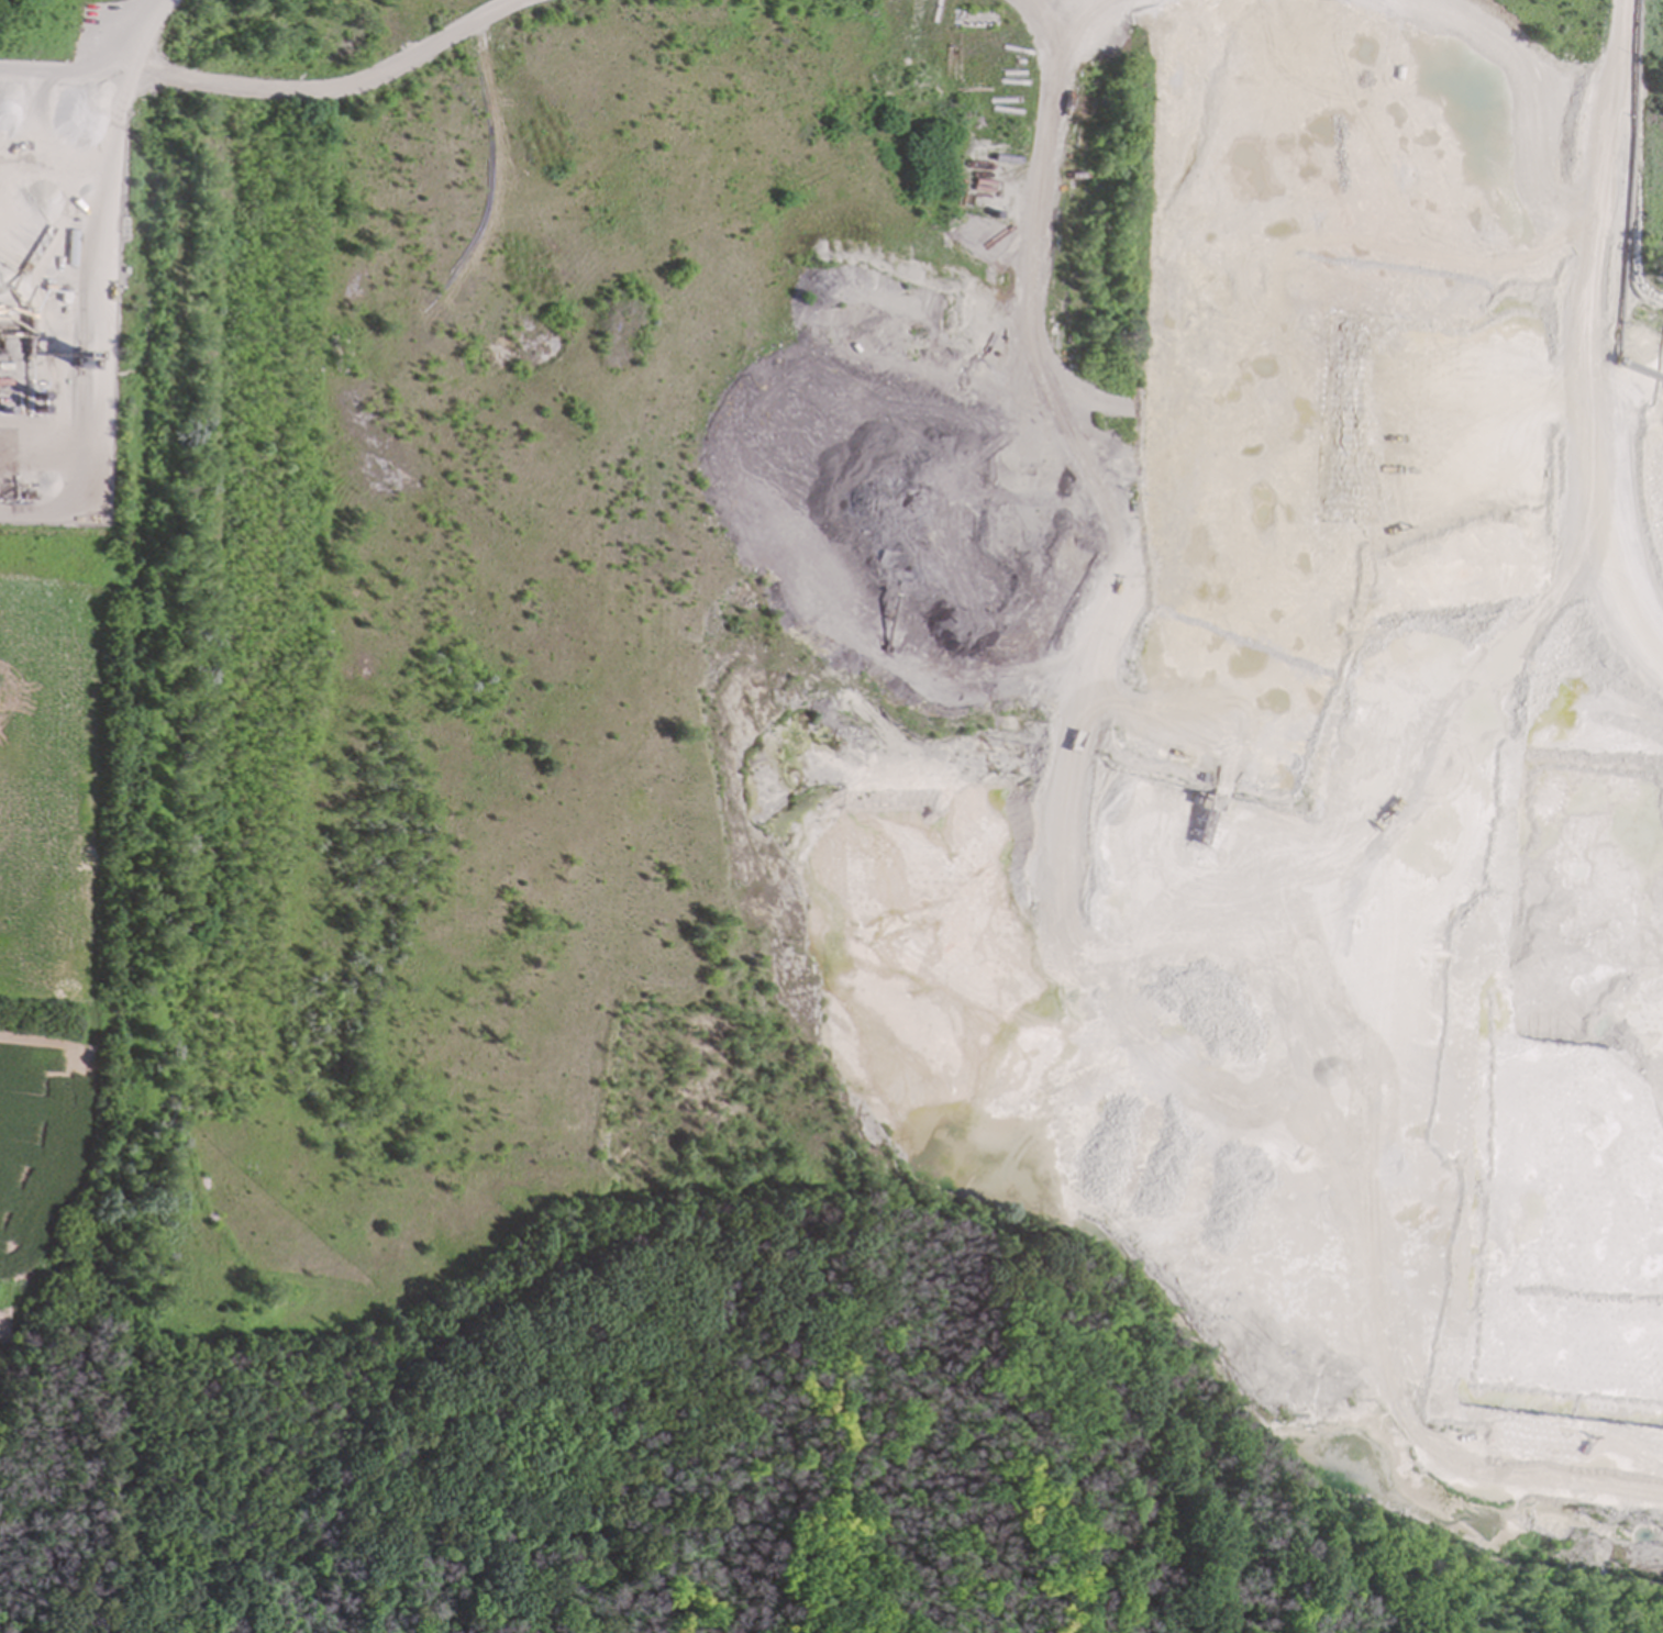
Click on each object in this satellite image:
road: (146, 30)
road: (67, 70)
road: (102, 318)
quarry: (831, 816)
crop: (43, 918)

